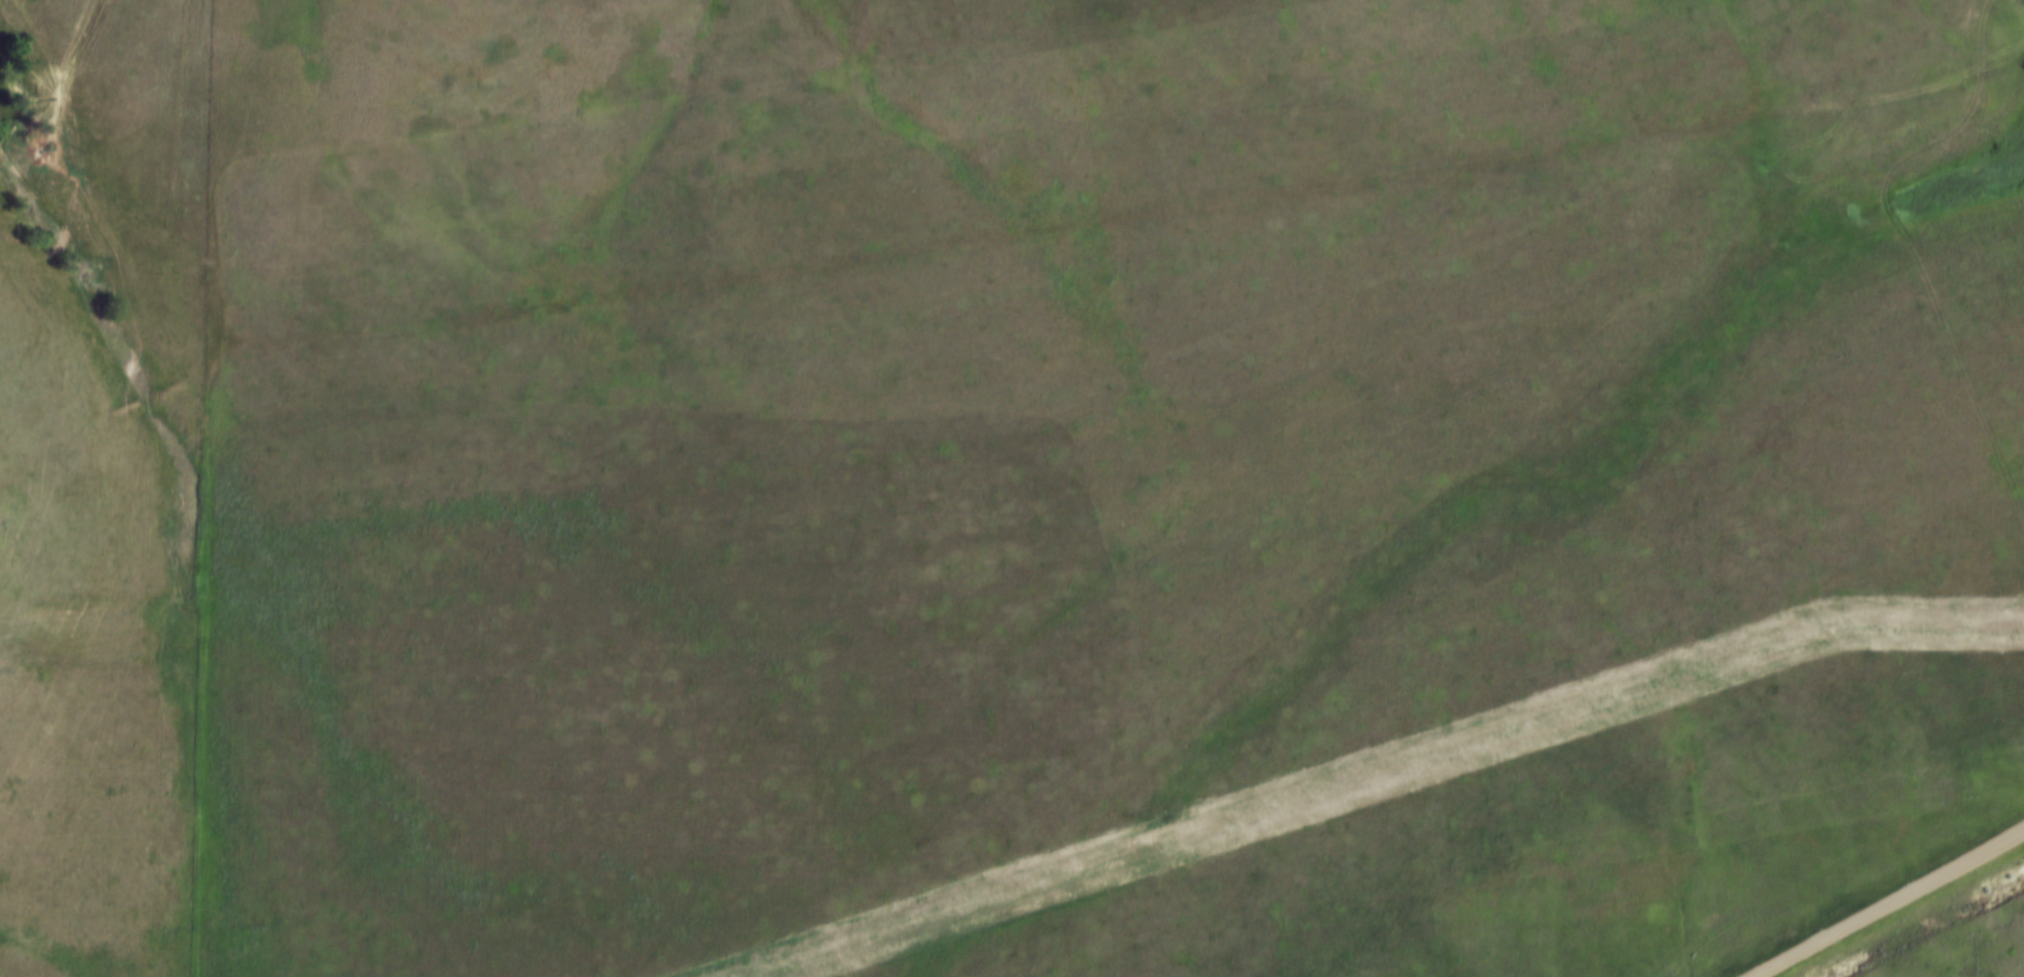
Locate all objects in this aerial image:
road: (1159, 237)
road: (1888, 902)

